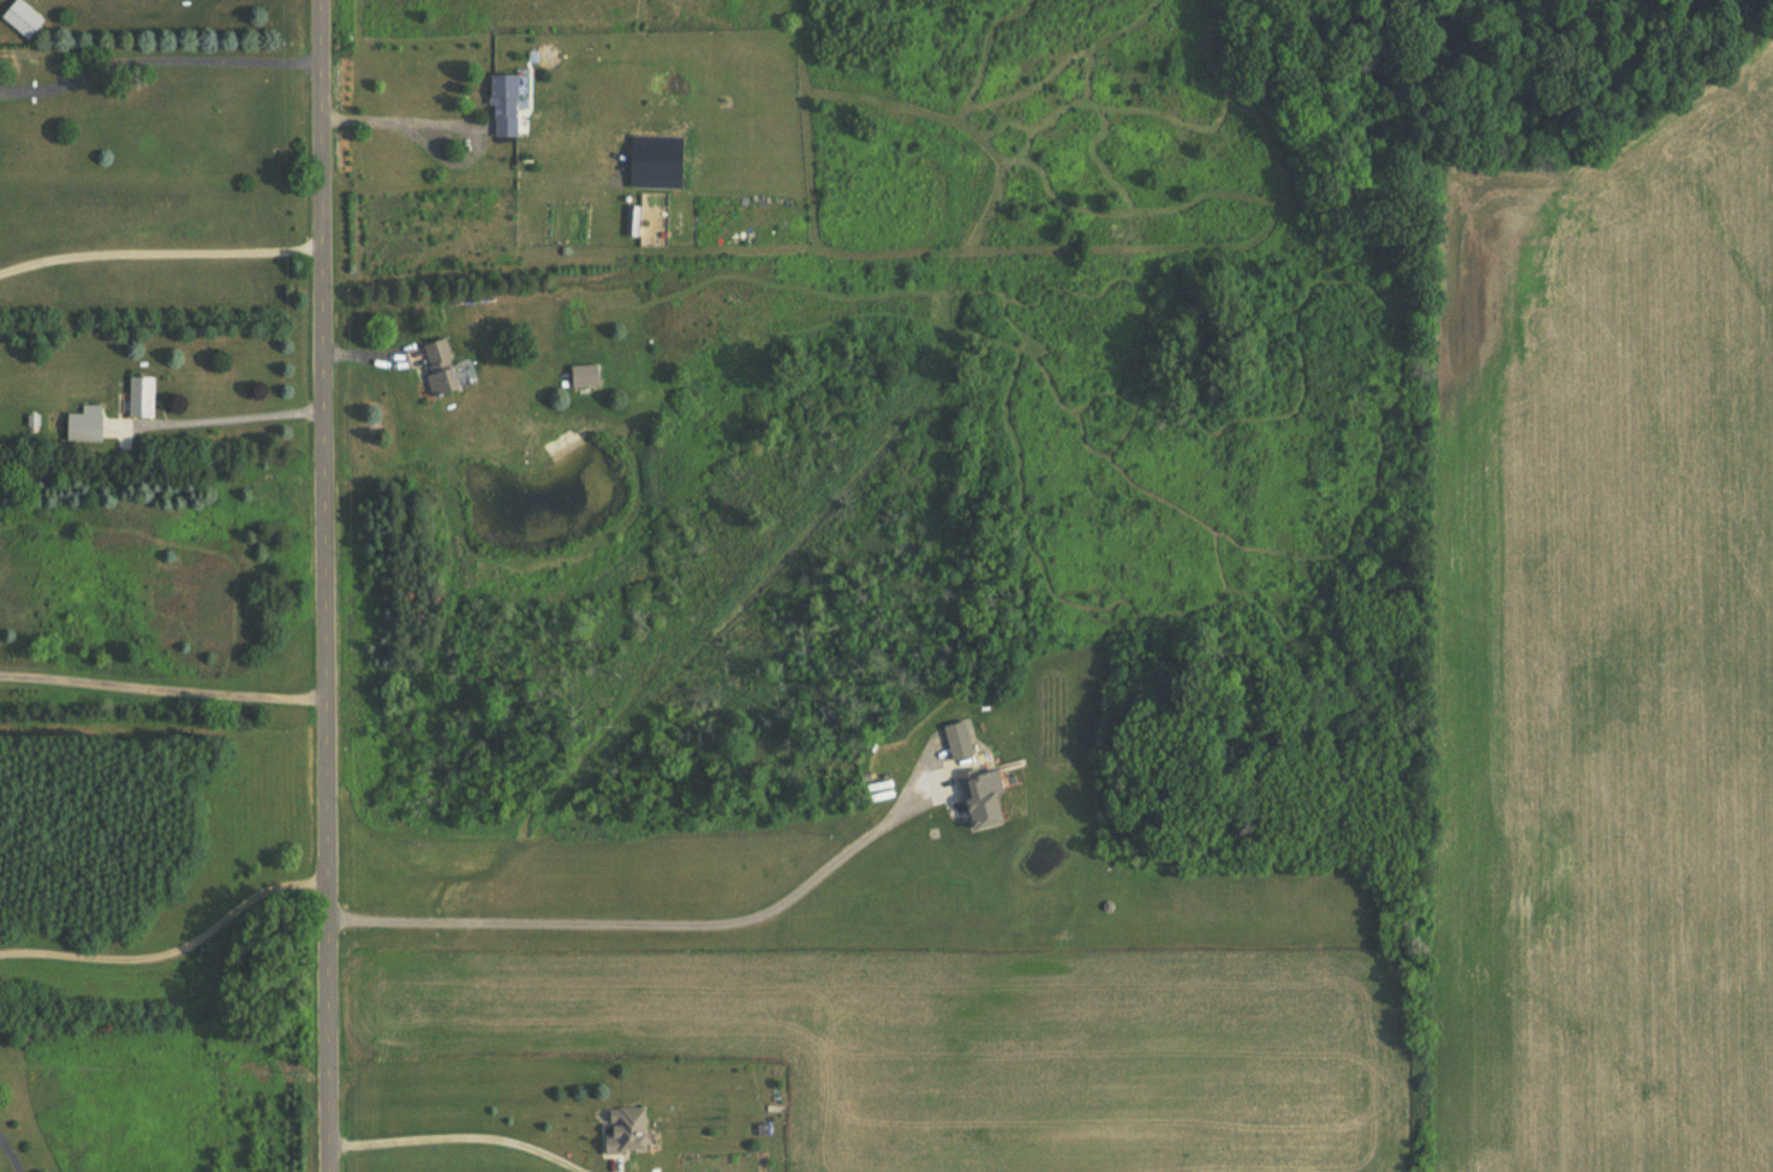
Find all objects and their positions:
building: (26, 19)
road: (160, 59)
building: (509, 103)
road: (401, 121)
building: (664, 163)
road: (162, 252)
building: (441, 367)
building: (585, 376)
building: (144, 396)
road: (244, 417)
building: (85, 427)
road: (328, 586)
road: (163, 688)
building: (955, 741)
building: (975, 799)
road: (637, 922)
road: (174, 950)
road: (472, 1128)
building: (629, 1129)
road: (8, 1156)

